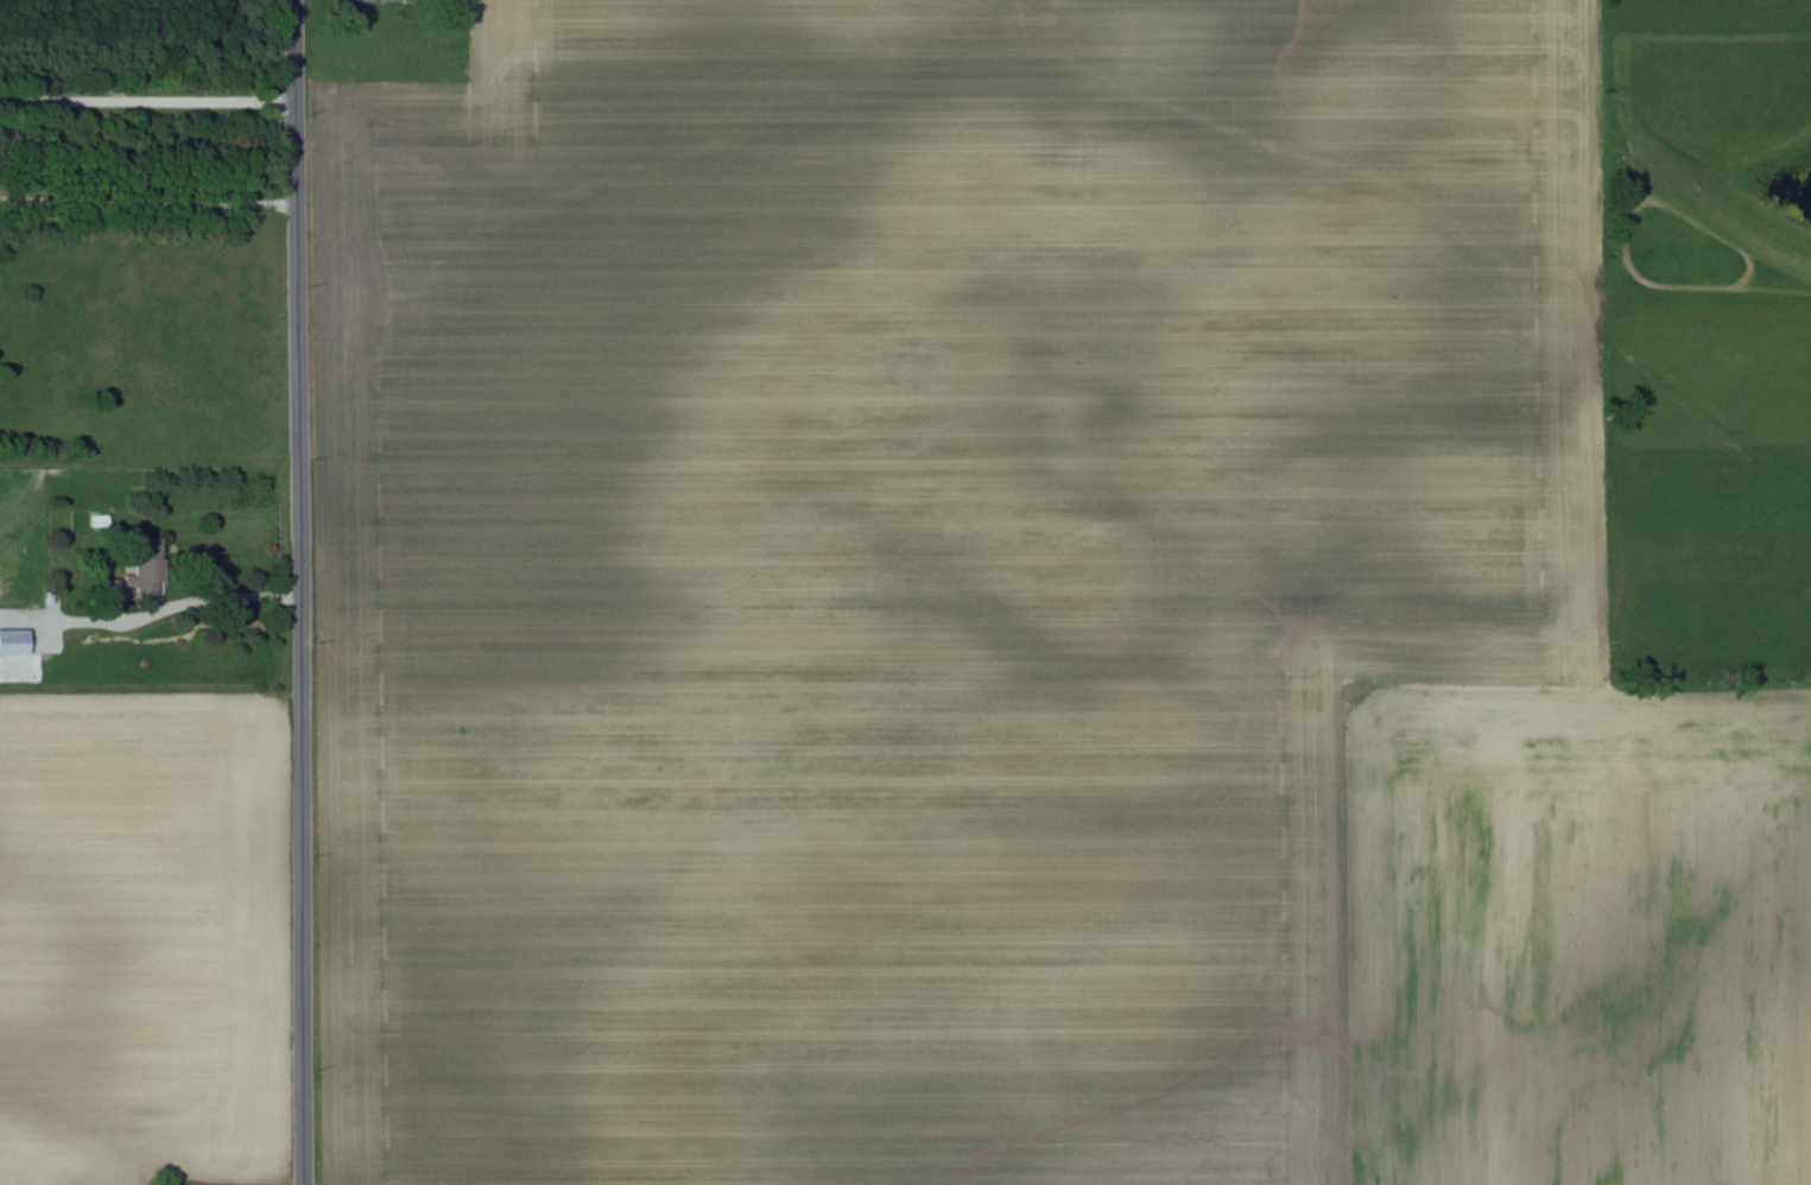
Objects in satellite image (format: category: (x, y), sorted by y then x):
road: (146, 101)
road: (147, 202)
building: (140, 570)
road: (298, 591)
road: (203, 600)
building: (13, 640)

